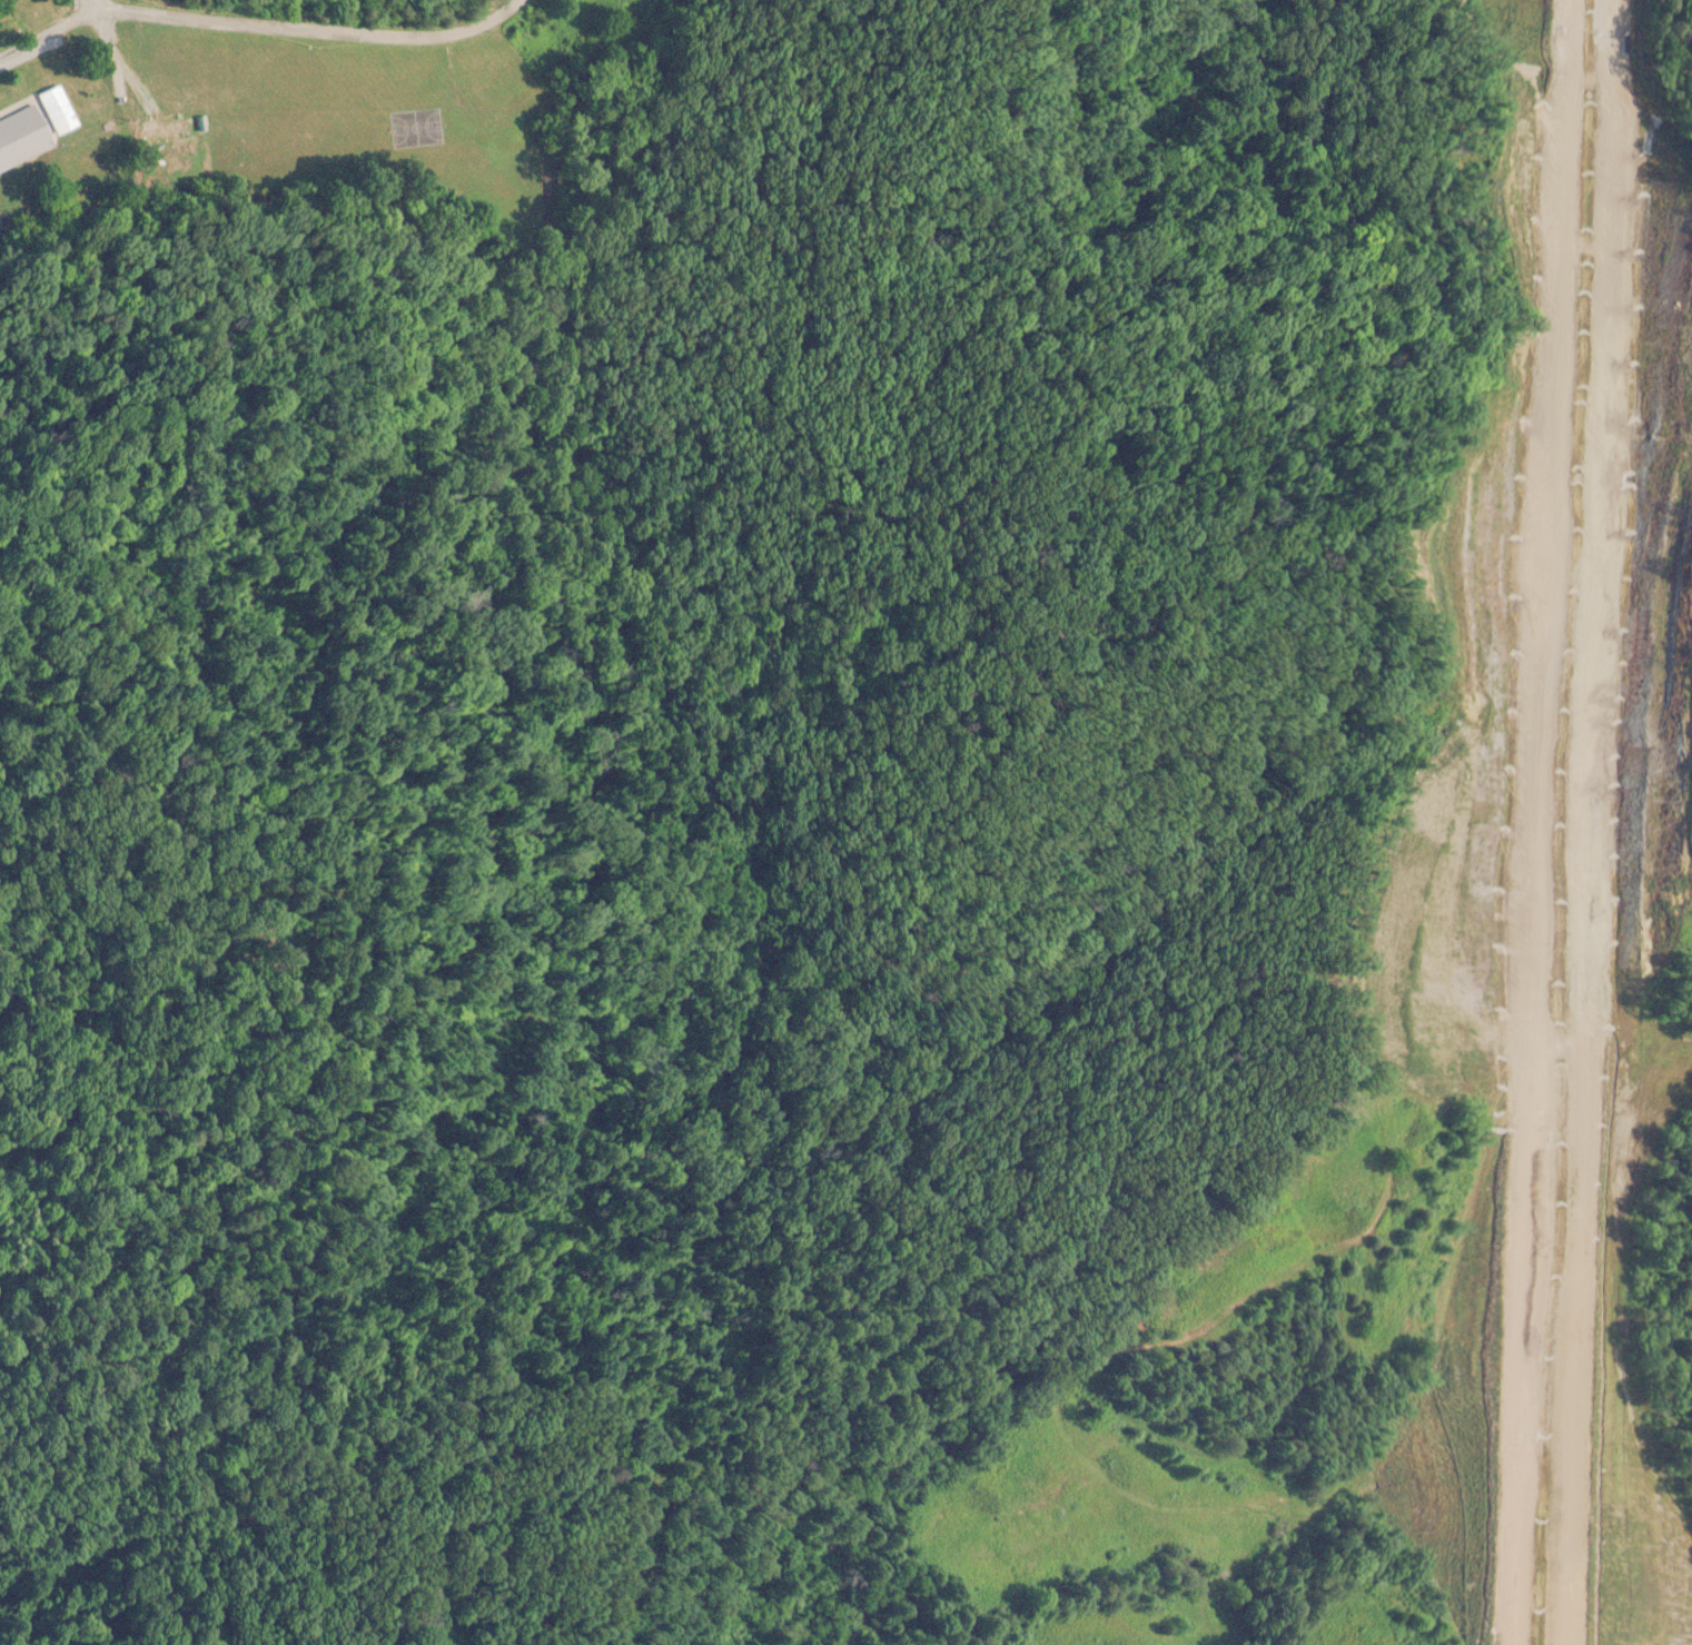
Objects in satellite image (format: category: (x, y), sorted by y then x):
road: (111, 10)
road: (256, 29)
building: (56, 110)
building: (22, 142)
road: (1537, 822)
road: (1595, 822)

